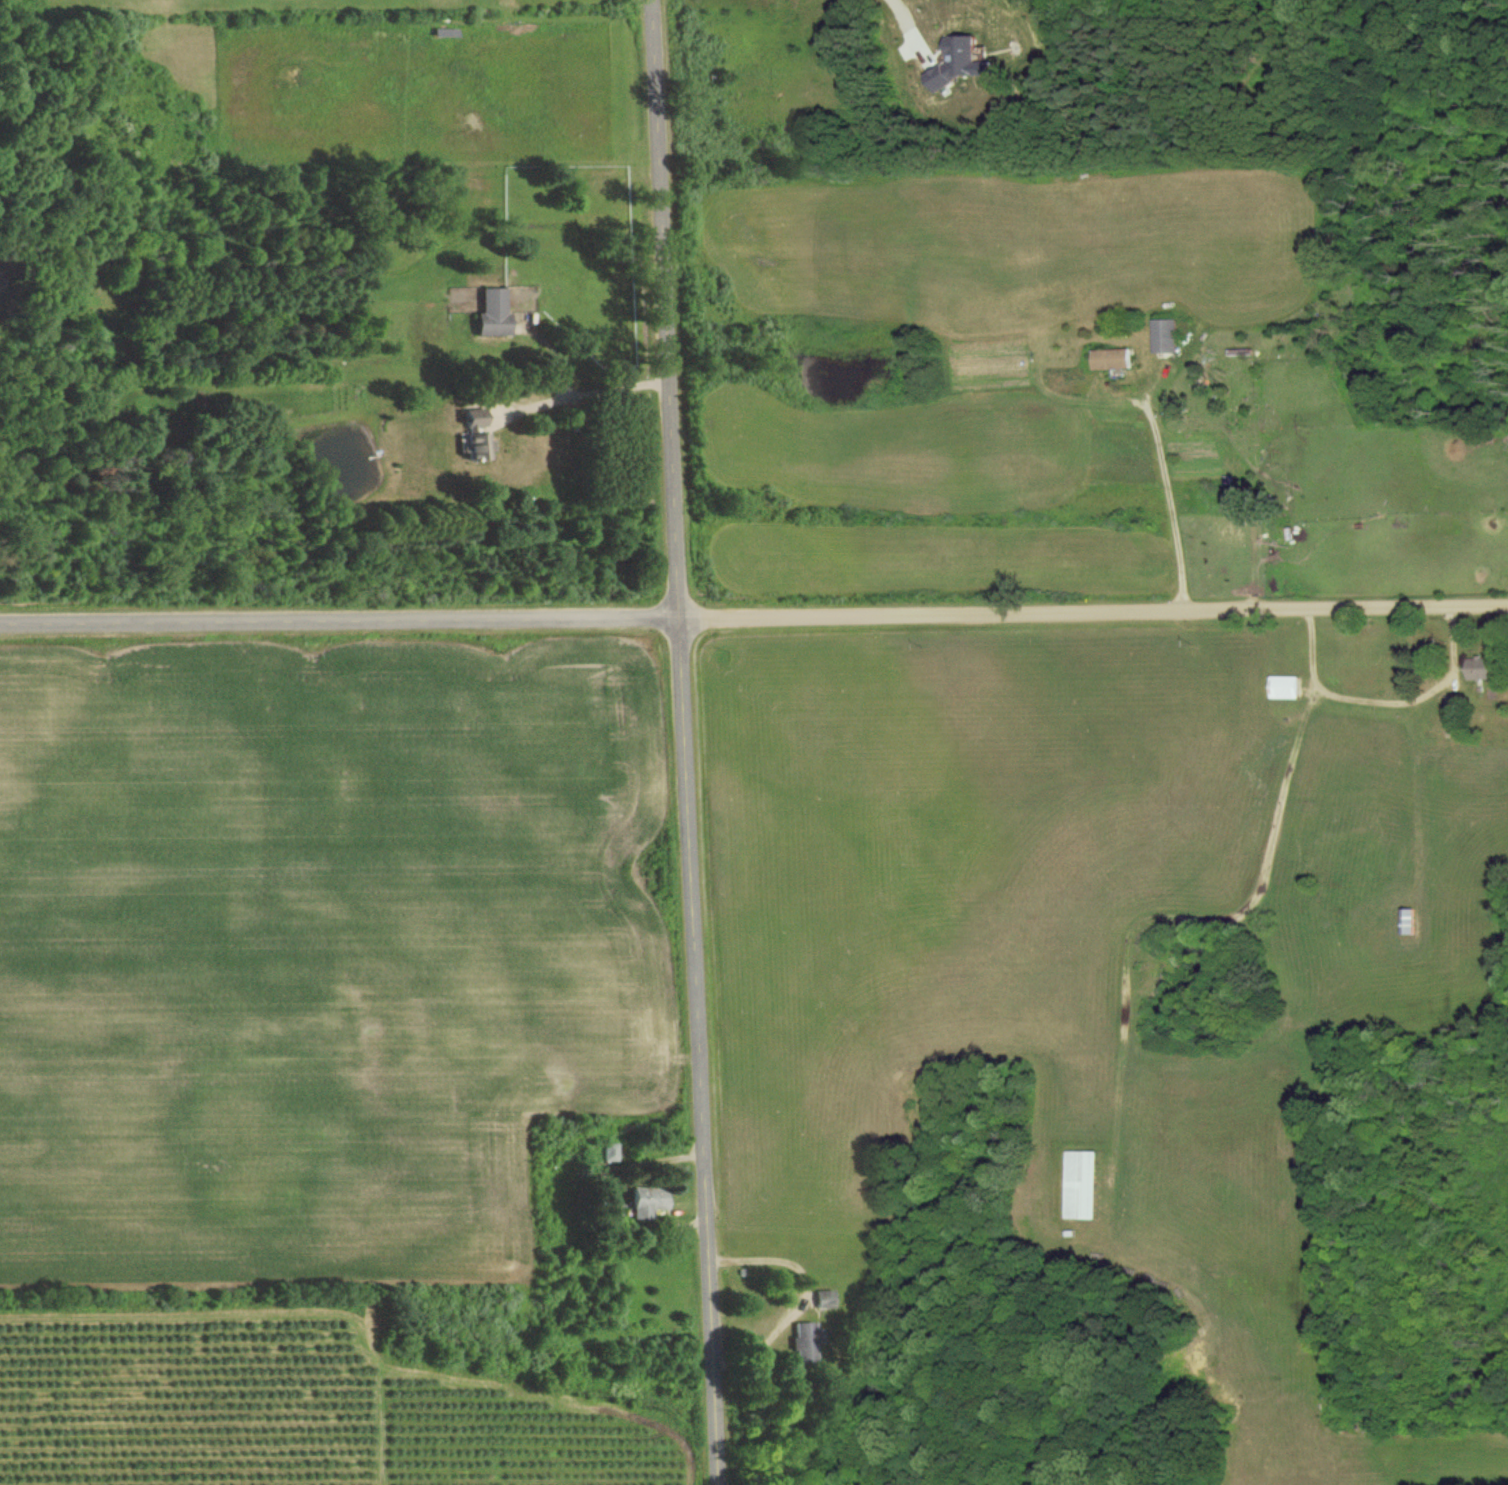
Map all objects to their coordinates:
road: (910, 21)
building: (957, 61)
building: (488, 313)
building: (1163, 335)
building: (1109, 358)
road: (586, 393)
building: (470, 435)
road: (1173, 505)
road: (754, 616)
building: (1477, 668)
building: (1281, 687)
road: (1383, 699)
road: (684, 742)
road: (1189, 917)
building: (1405, 920)
crop: (315, 943)
building: (608, 1152)
building: (1078, 1184)
building: (643, 1201)
road: (796, 1267)
building: (821, 1298)
building: (803, 1342)
crop: (177, 1399)
crop: (521, 1440)

